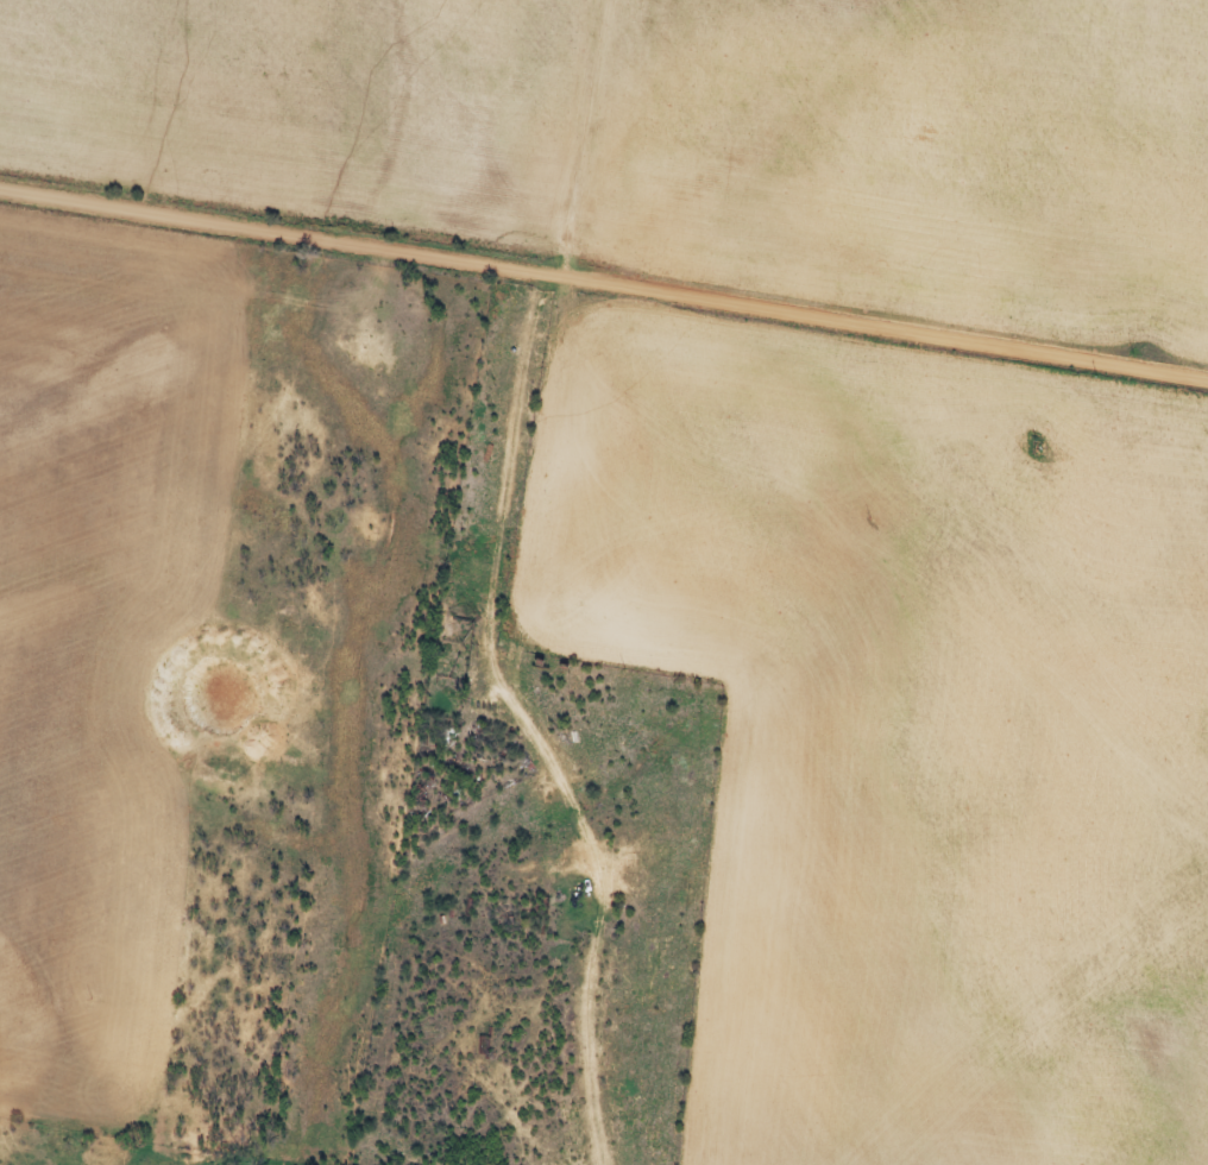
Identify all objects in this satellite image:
crop: (918, 162)
road: (604, 283)
road: (496, 597)

